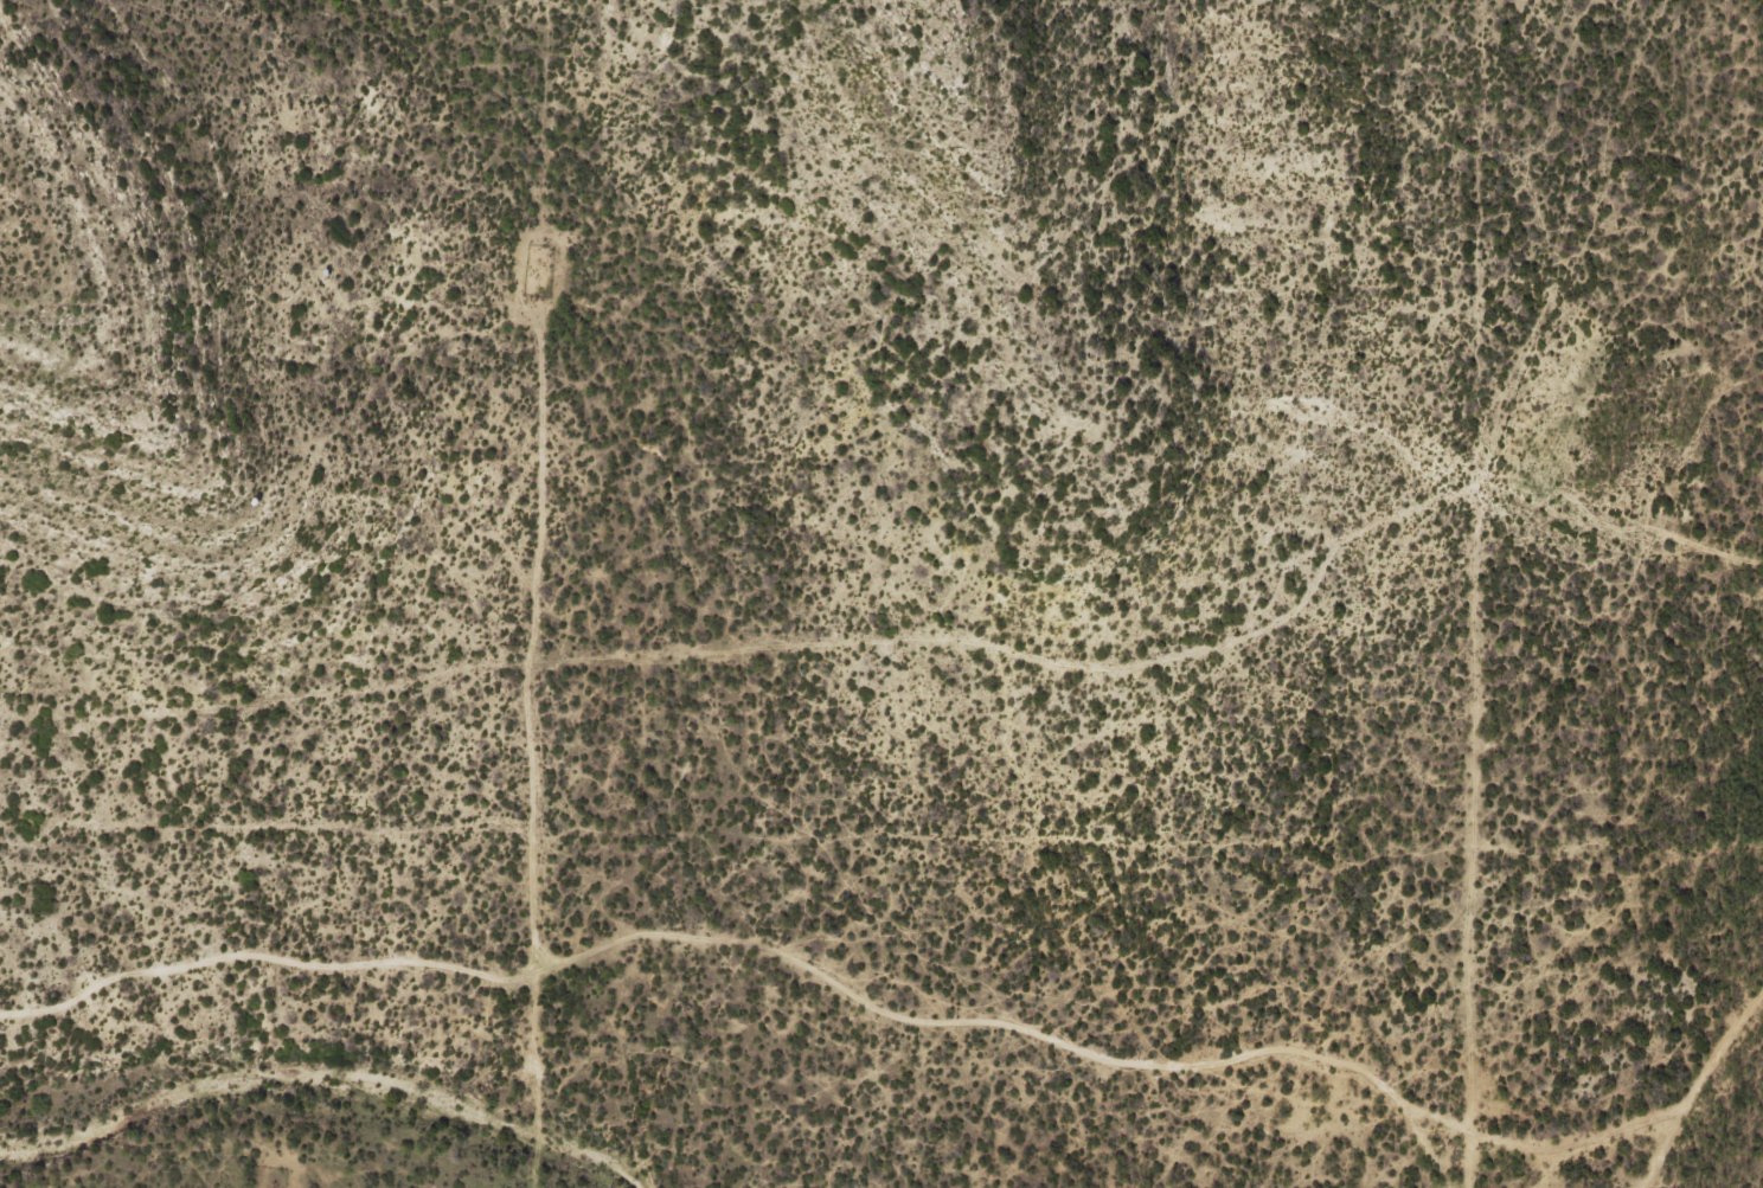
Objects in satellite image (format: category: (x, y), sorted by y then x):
road: (1104, 1053)

